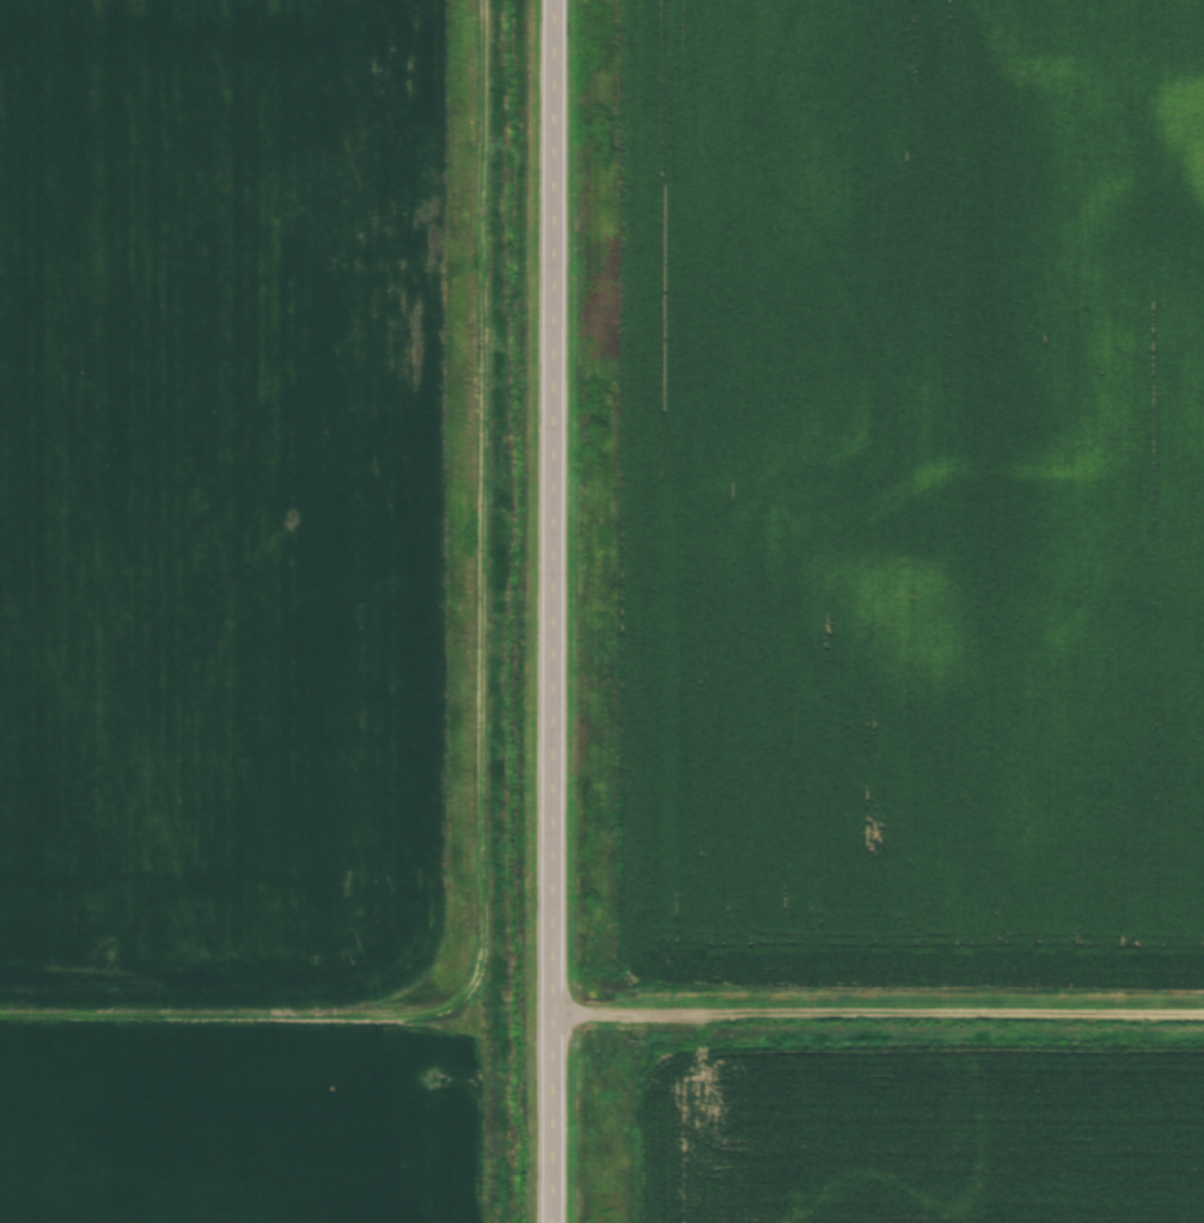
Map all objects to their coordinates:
road: (561, 611)
road: (490, 741)
road: (881, 1021)

